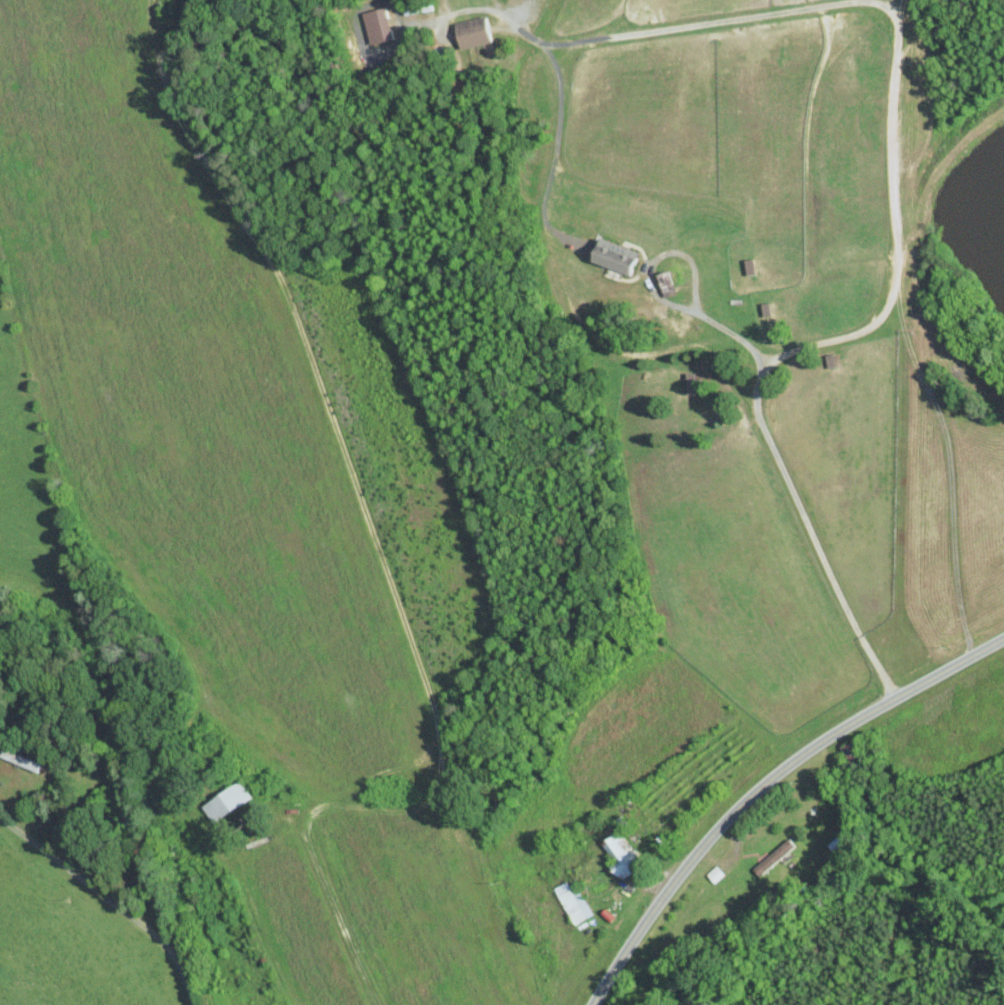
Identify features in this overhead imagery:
road: (498, 6)
road: (469, 8)
road: (897, 23)
building: (378, 24)
building: (476, 31)
road: (555, 151)
building: (620, 256)
road: (657, 295)
building: (692, 382)
road: (948, 467)
road: (810, 534)
road: (765, 786)
building: (229, 802)
road: (454, 819)
building: (624, 856)
building: (777, 858)
road: (110, 899)
building: (575, 902)

